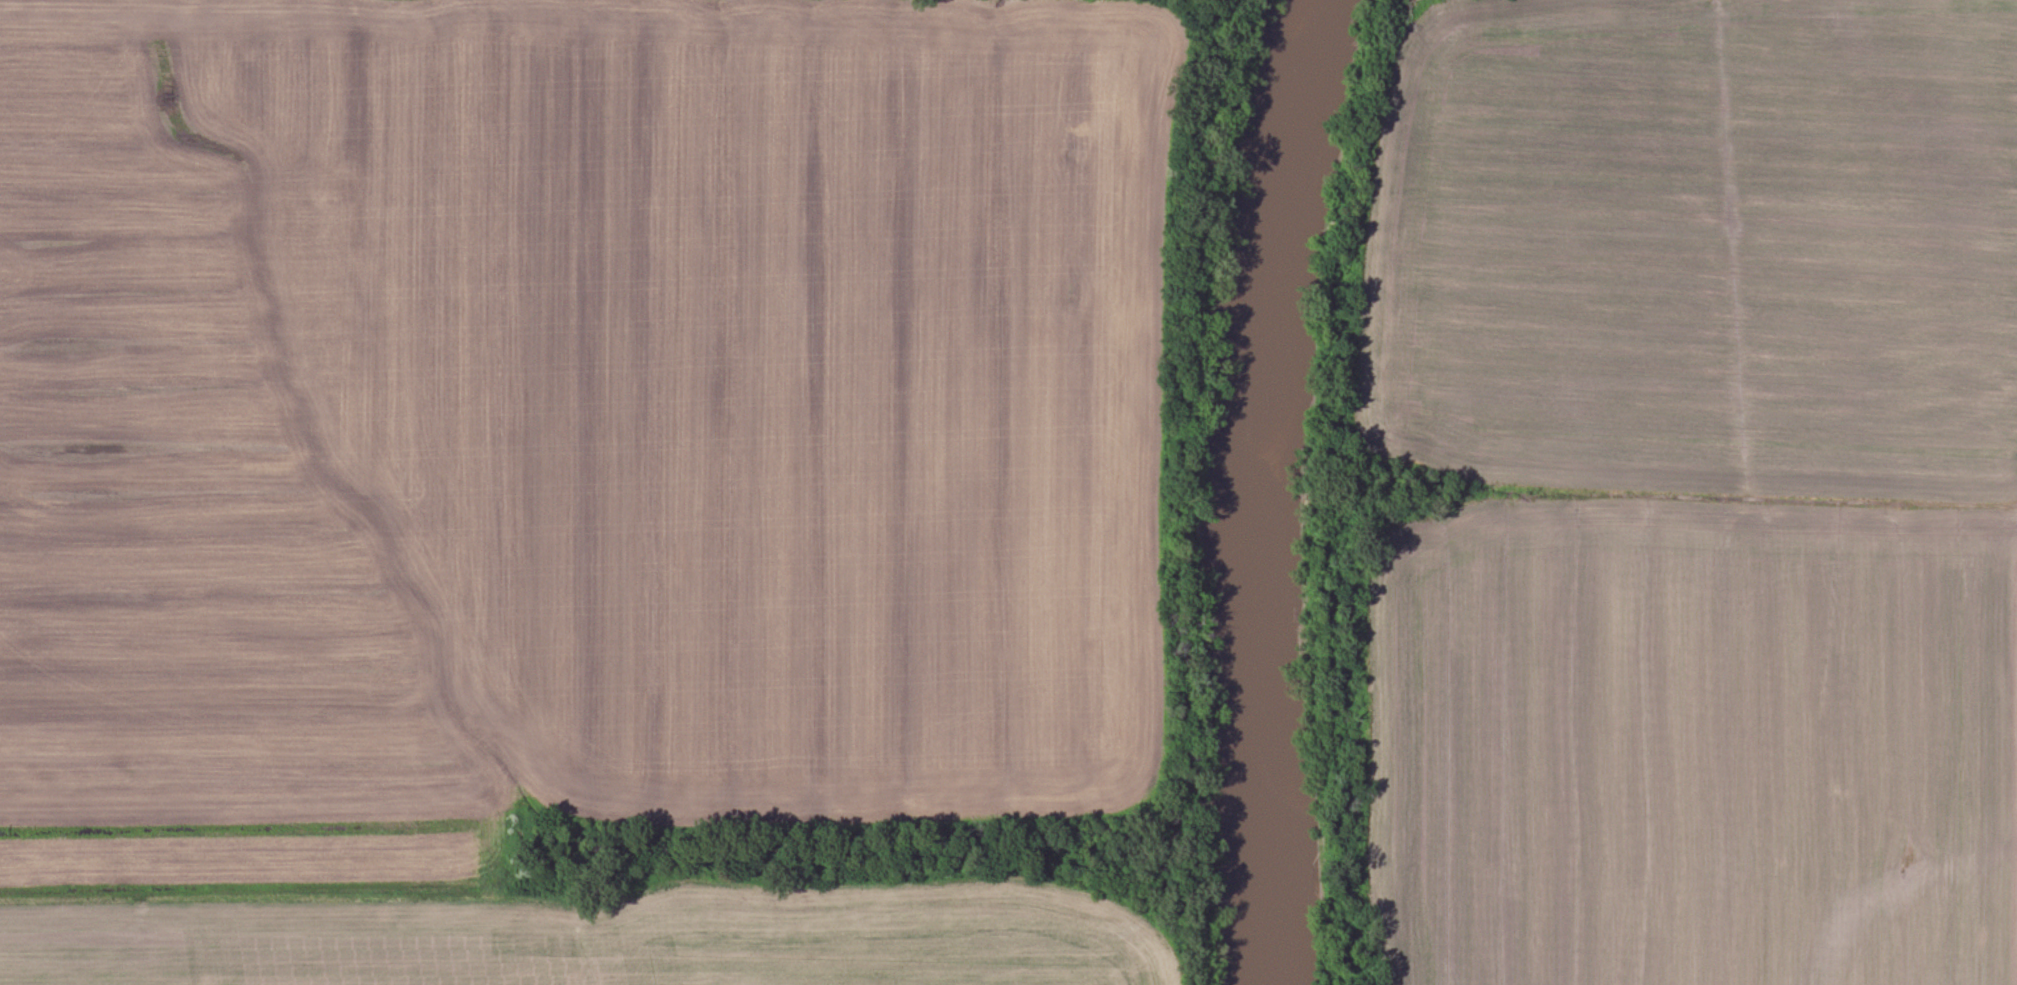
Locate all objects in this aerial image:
river: (1249, 491)

